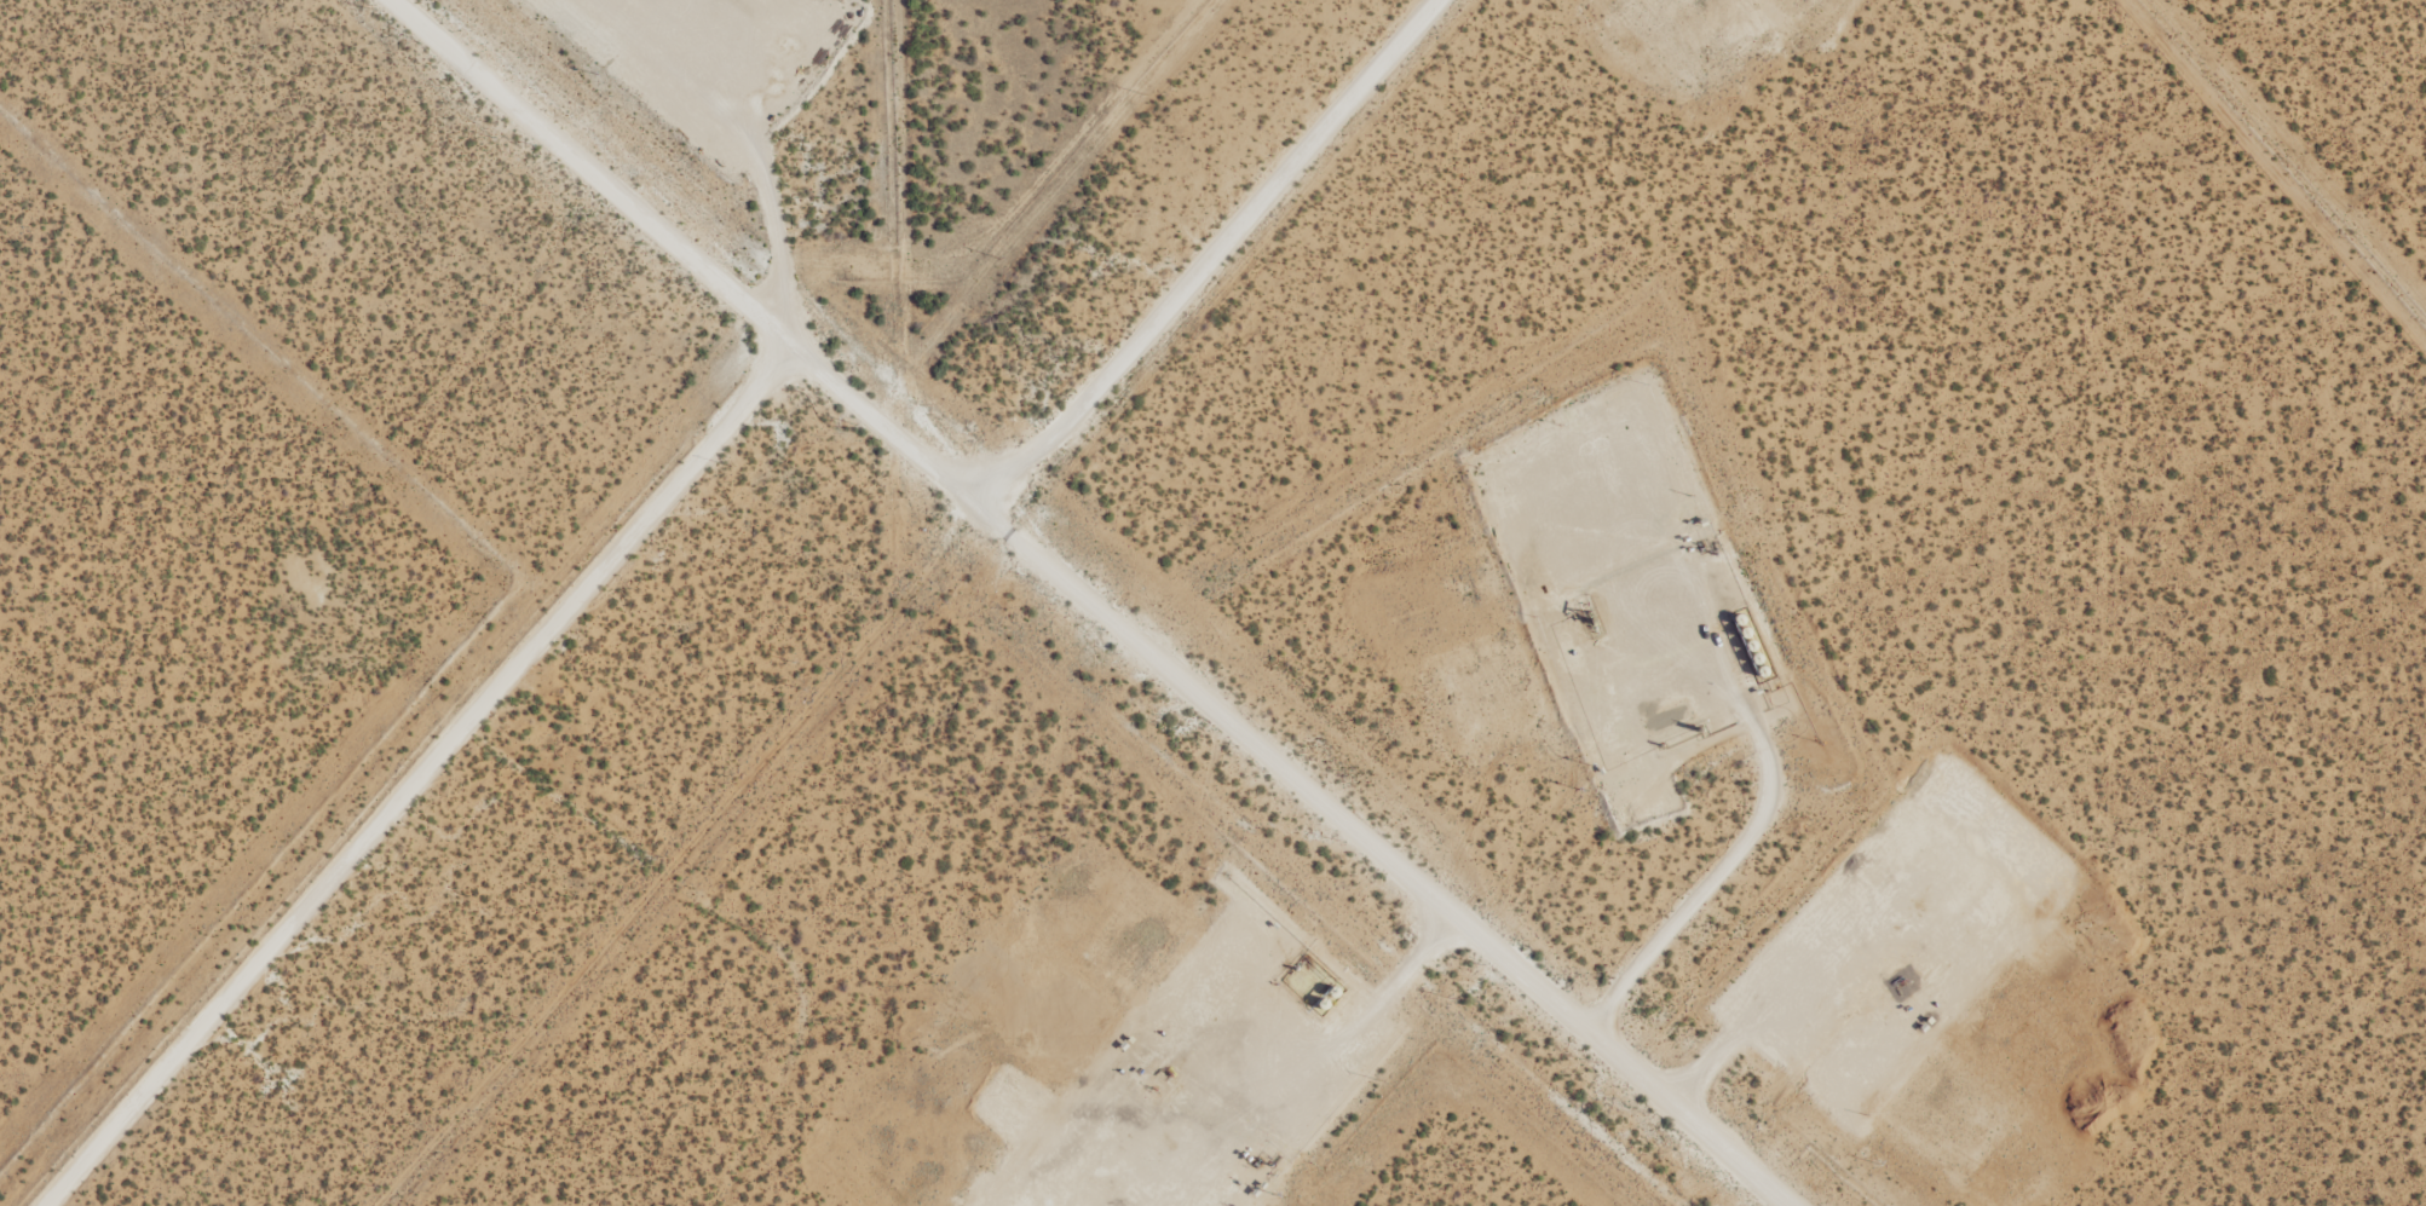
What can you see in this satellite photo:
road: (772, 224)
road: (1209, 250)
road: (1091, 604)
road: (347, 637)
road: (420, 777)
road: (1710, 879)
road: (1377, 997)

